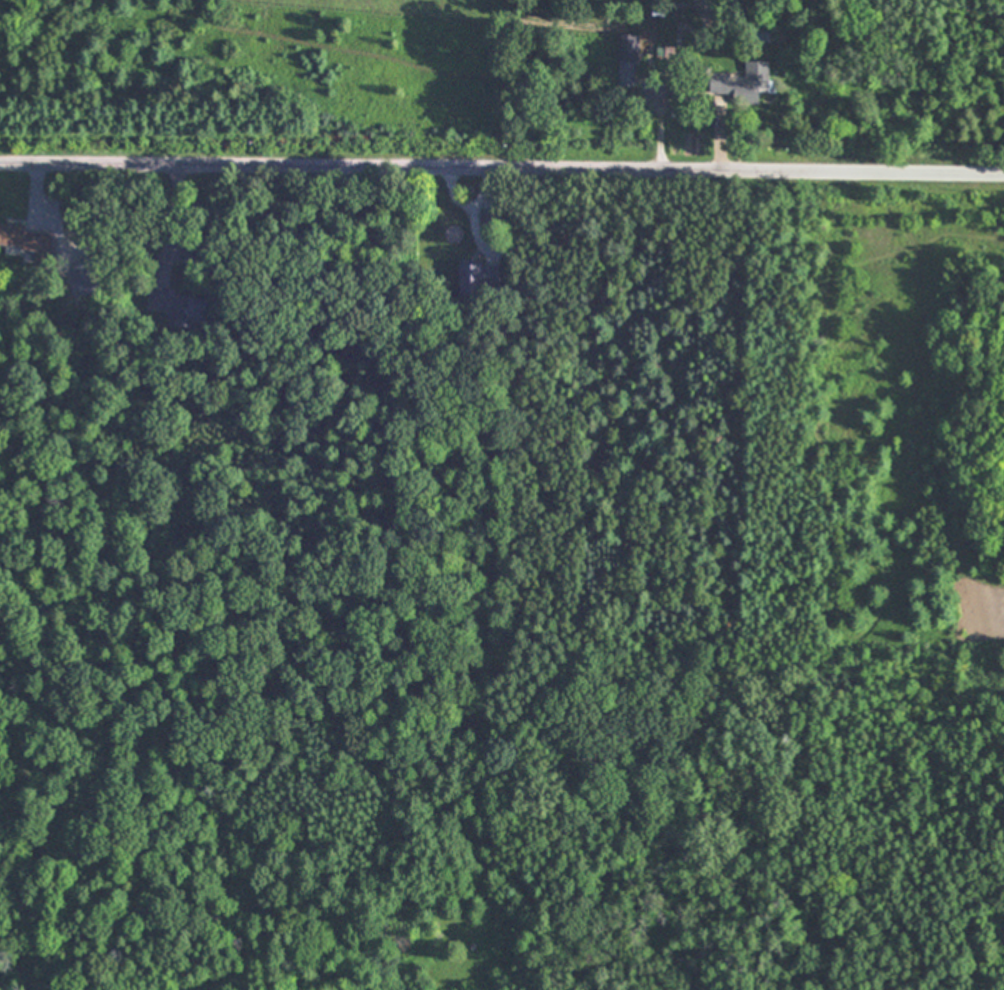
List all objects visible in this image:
building: (683, 36)
building: (665, 51)
road: (694, 57)
building: (627, 59)
building: (758, 78)
building: (684, 89)
road: (502, 168)
road: (461, 207)
building: (489, 217)
building: (28, 241)
building: (478, 279)
building: (178, 307)

